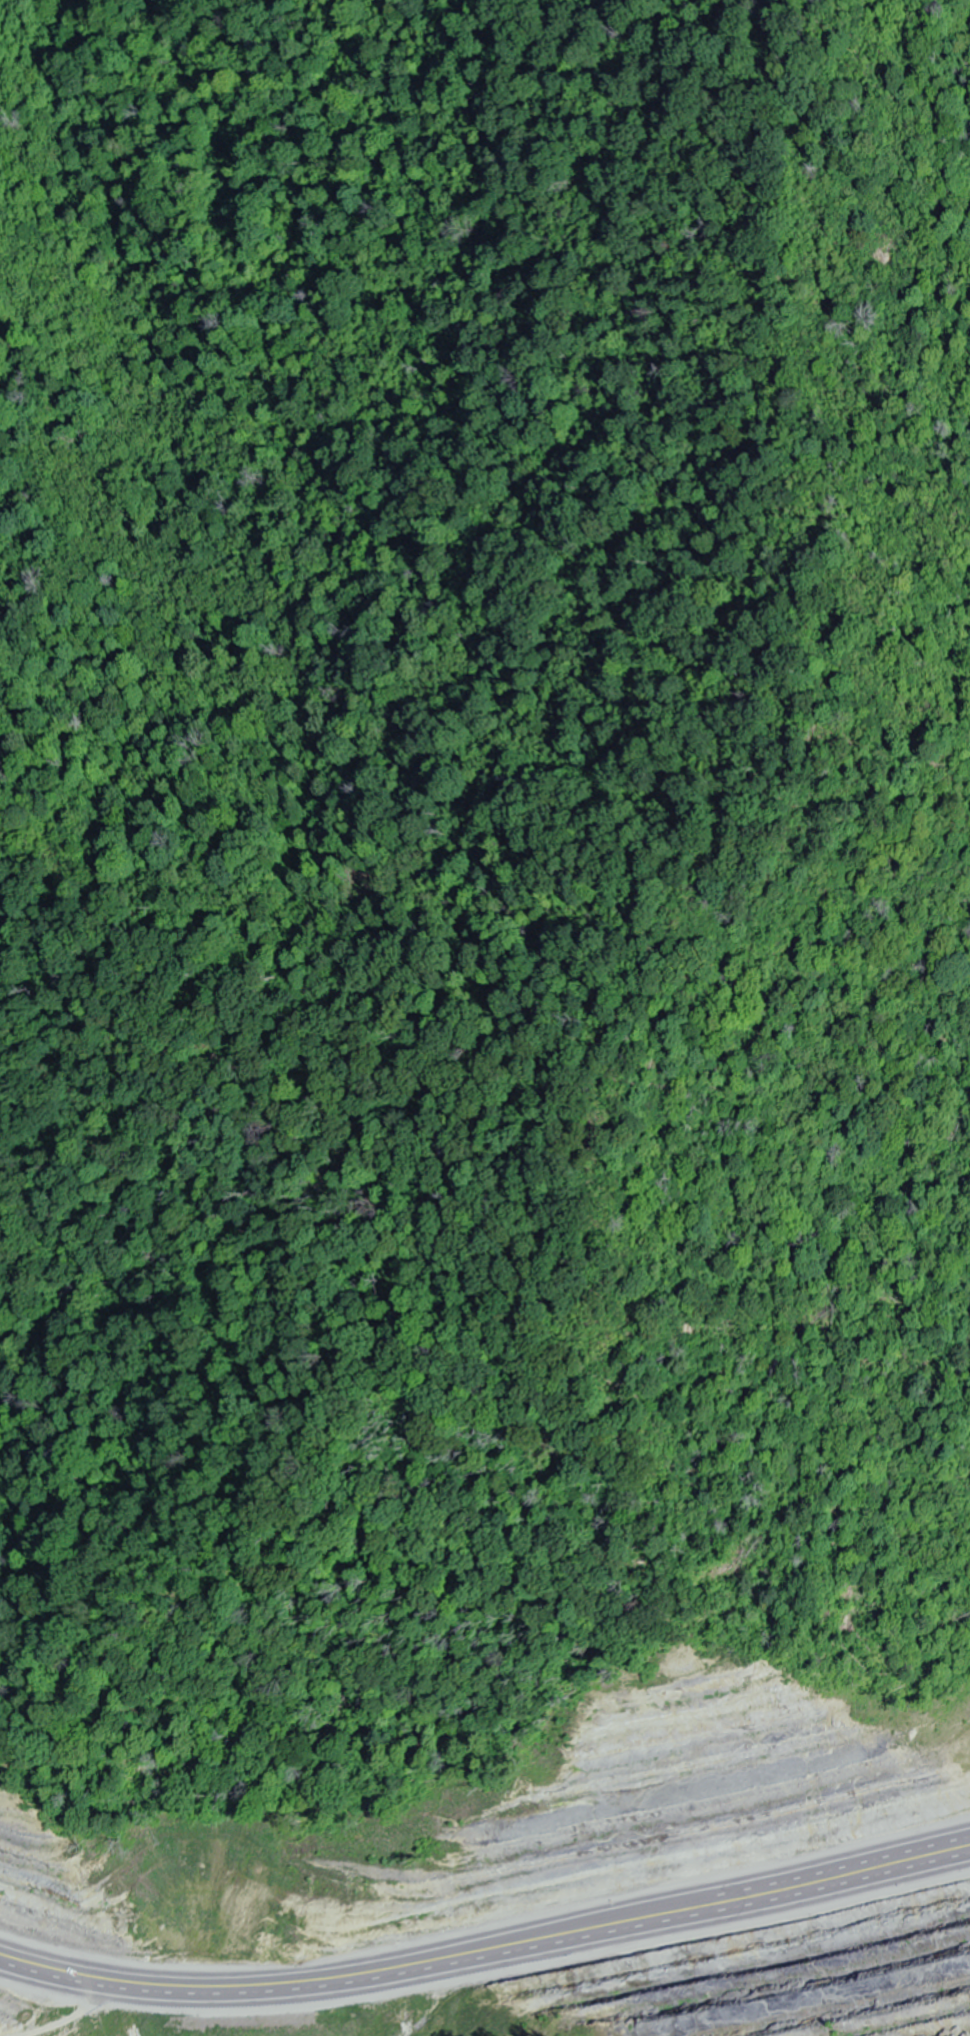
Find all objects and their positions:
road: (488, 1956)

